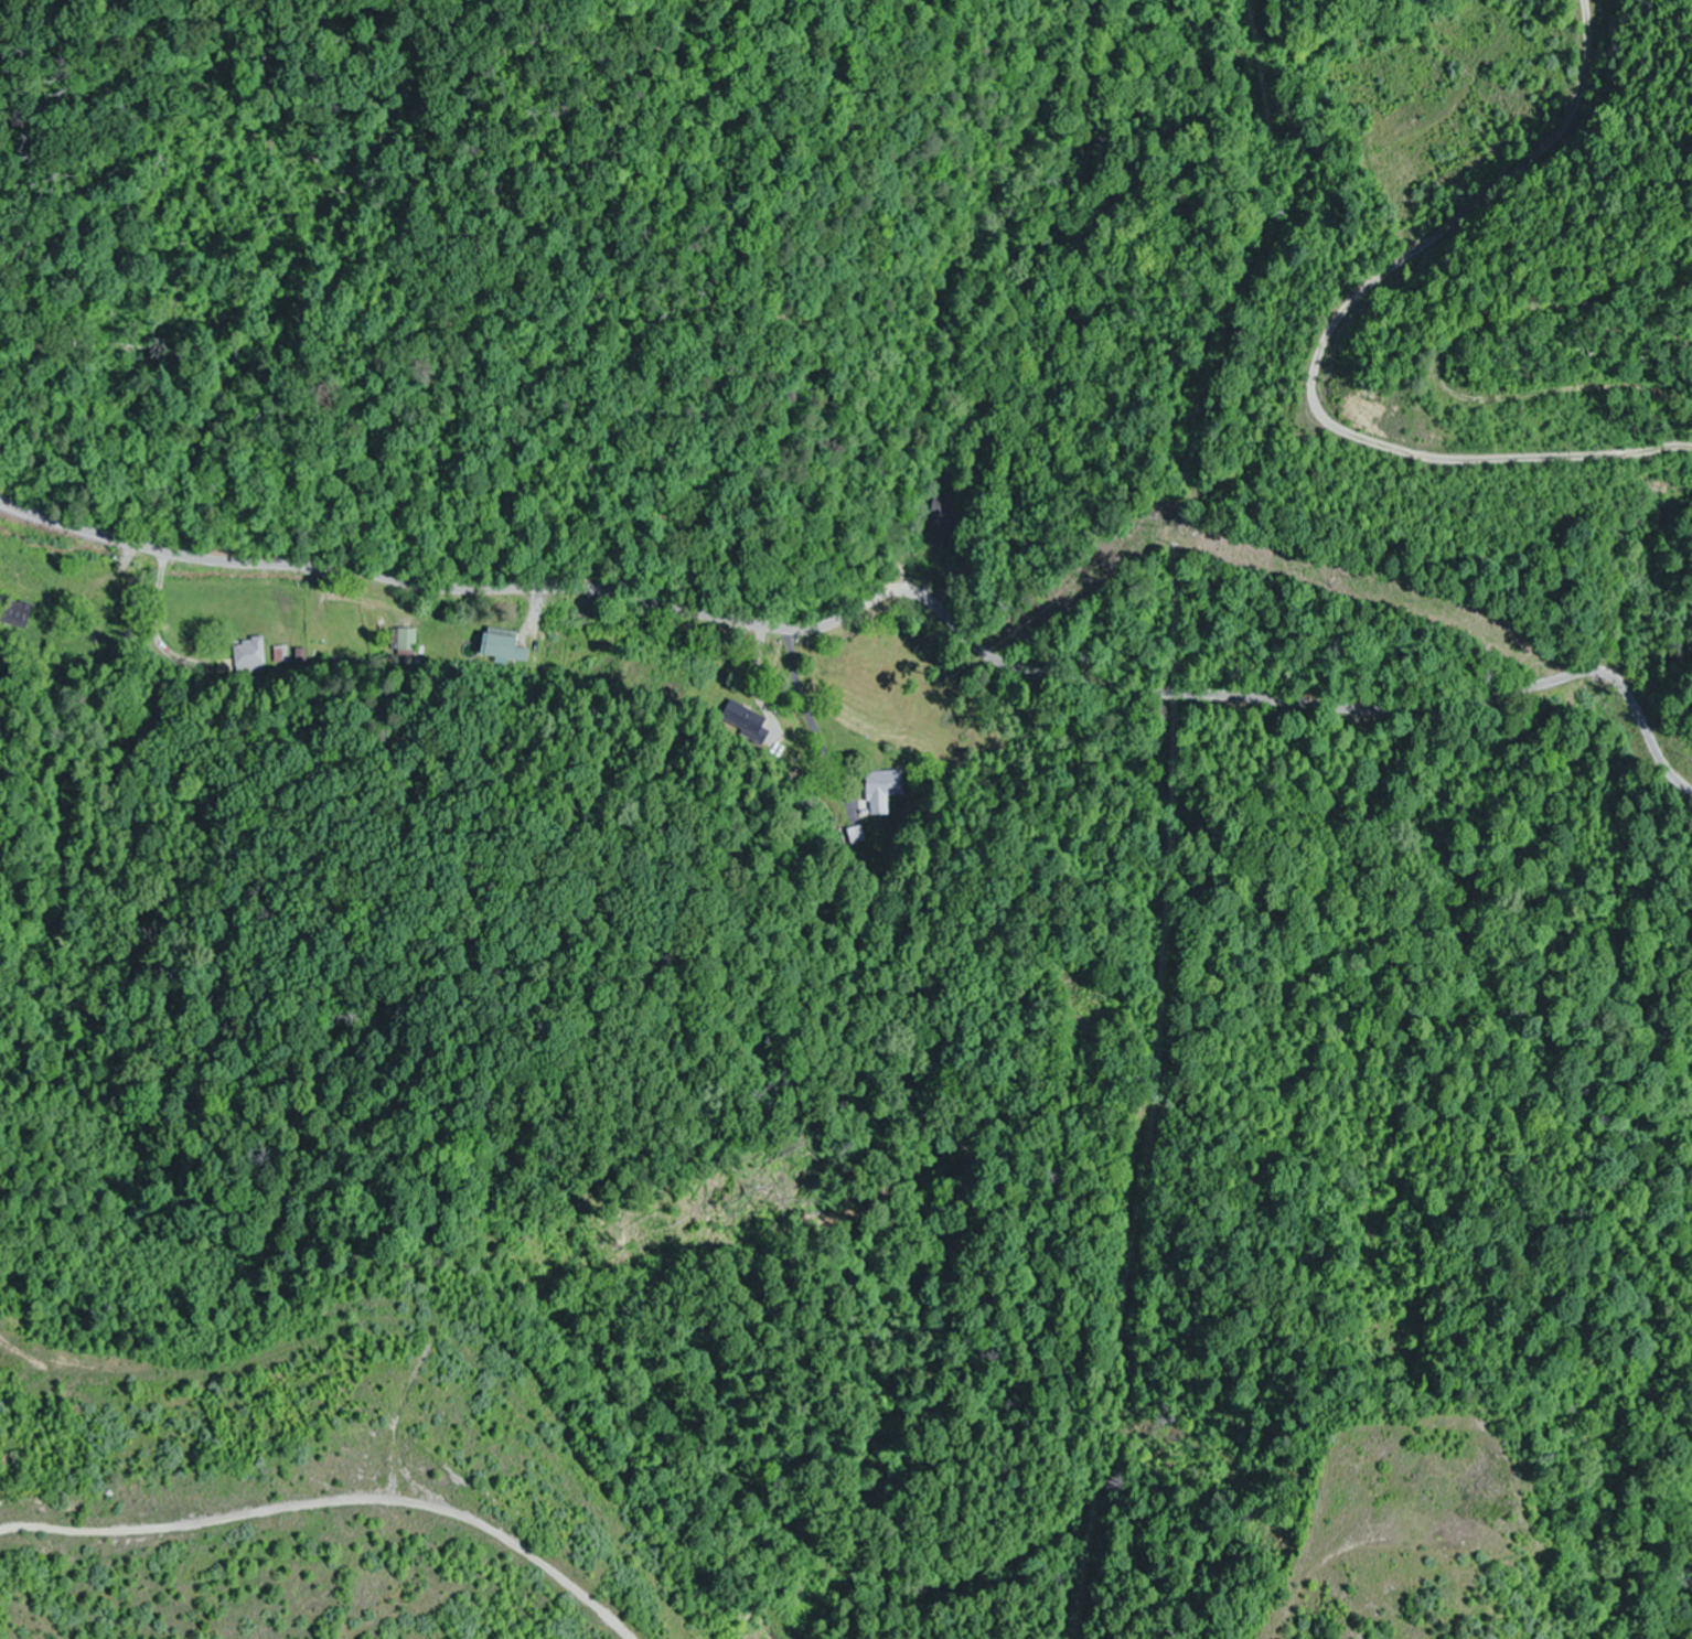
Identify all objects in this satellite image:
building: (944, 523)
road: (882, 596)
building: (13, 619)
building: (504, 649)
building: (281, 655)
building: (746, 720)
building: (884, 791)
road: (1037, 1338)
building: (394, 1453)
road: (233, 1481)

